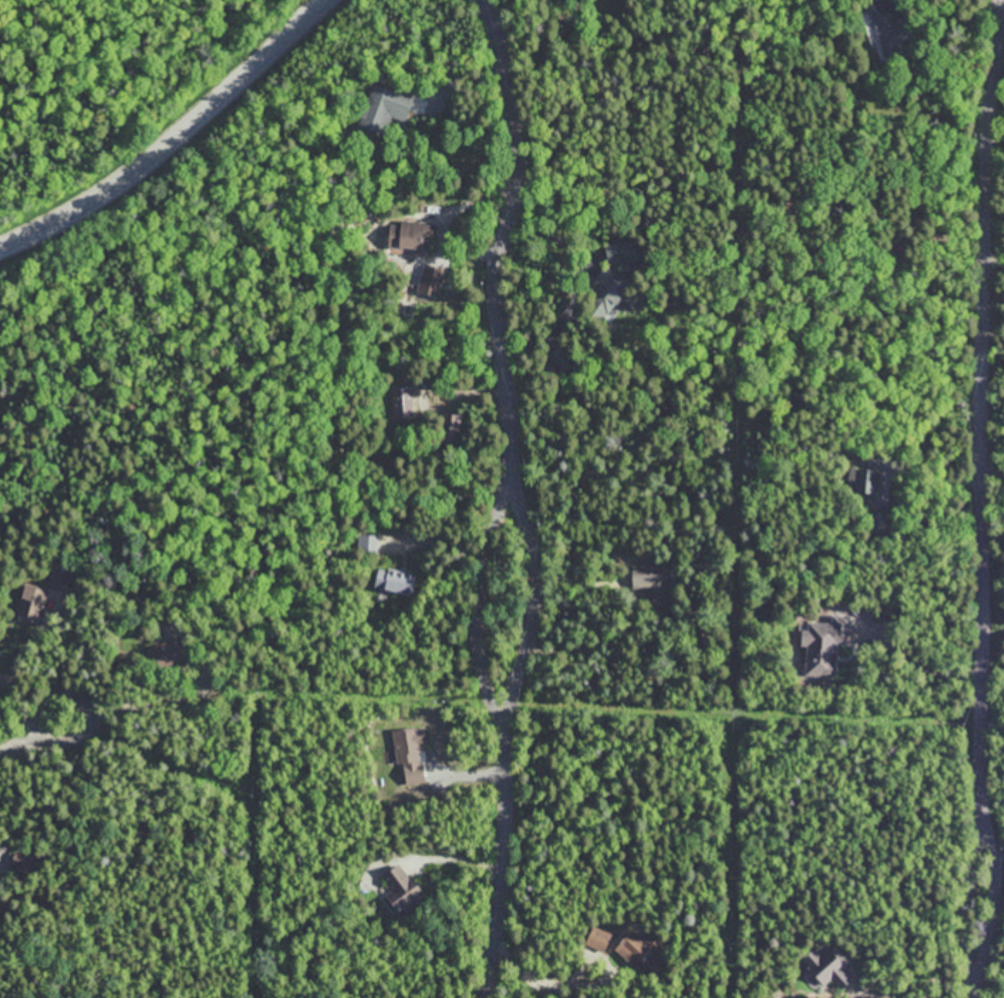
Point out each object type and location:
building: (894, 36)
building: (385, 107)
road: (174, 137)
building: (409, 234)
road: (503, 243)
building: (606, 291)
road: (40, 319)
building: (564, 357)
building: (403, 401)
building: (451, 427)
building: (863, 480)
road: (981, 501)
building: (366, 543)
building: (394, 581)
building: (655, 581)
building: (33, 602)
road: (538, 611)
road: (479, 612)
building: (824, 644)
building: (171, 653)
road: (34, 740)
road: (501, 865)
building: (400, 888)
building: (0, 912)
building: (597, 937)
building: (639, 948)
building: (825, 967)

